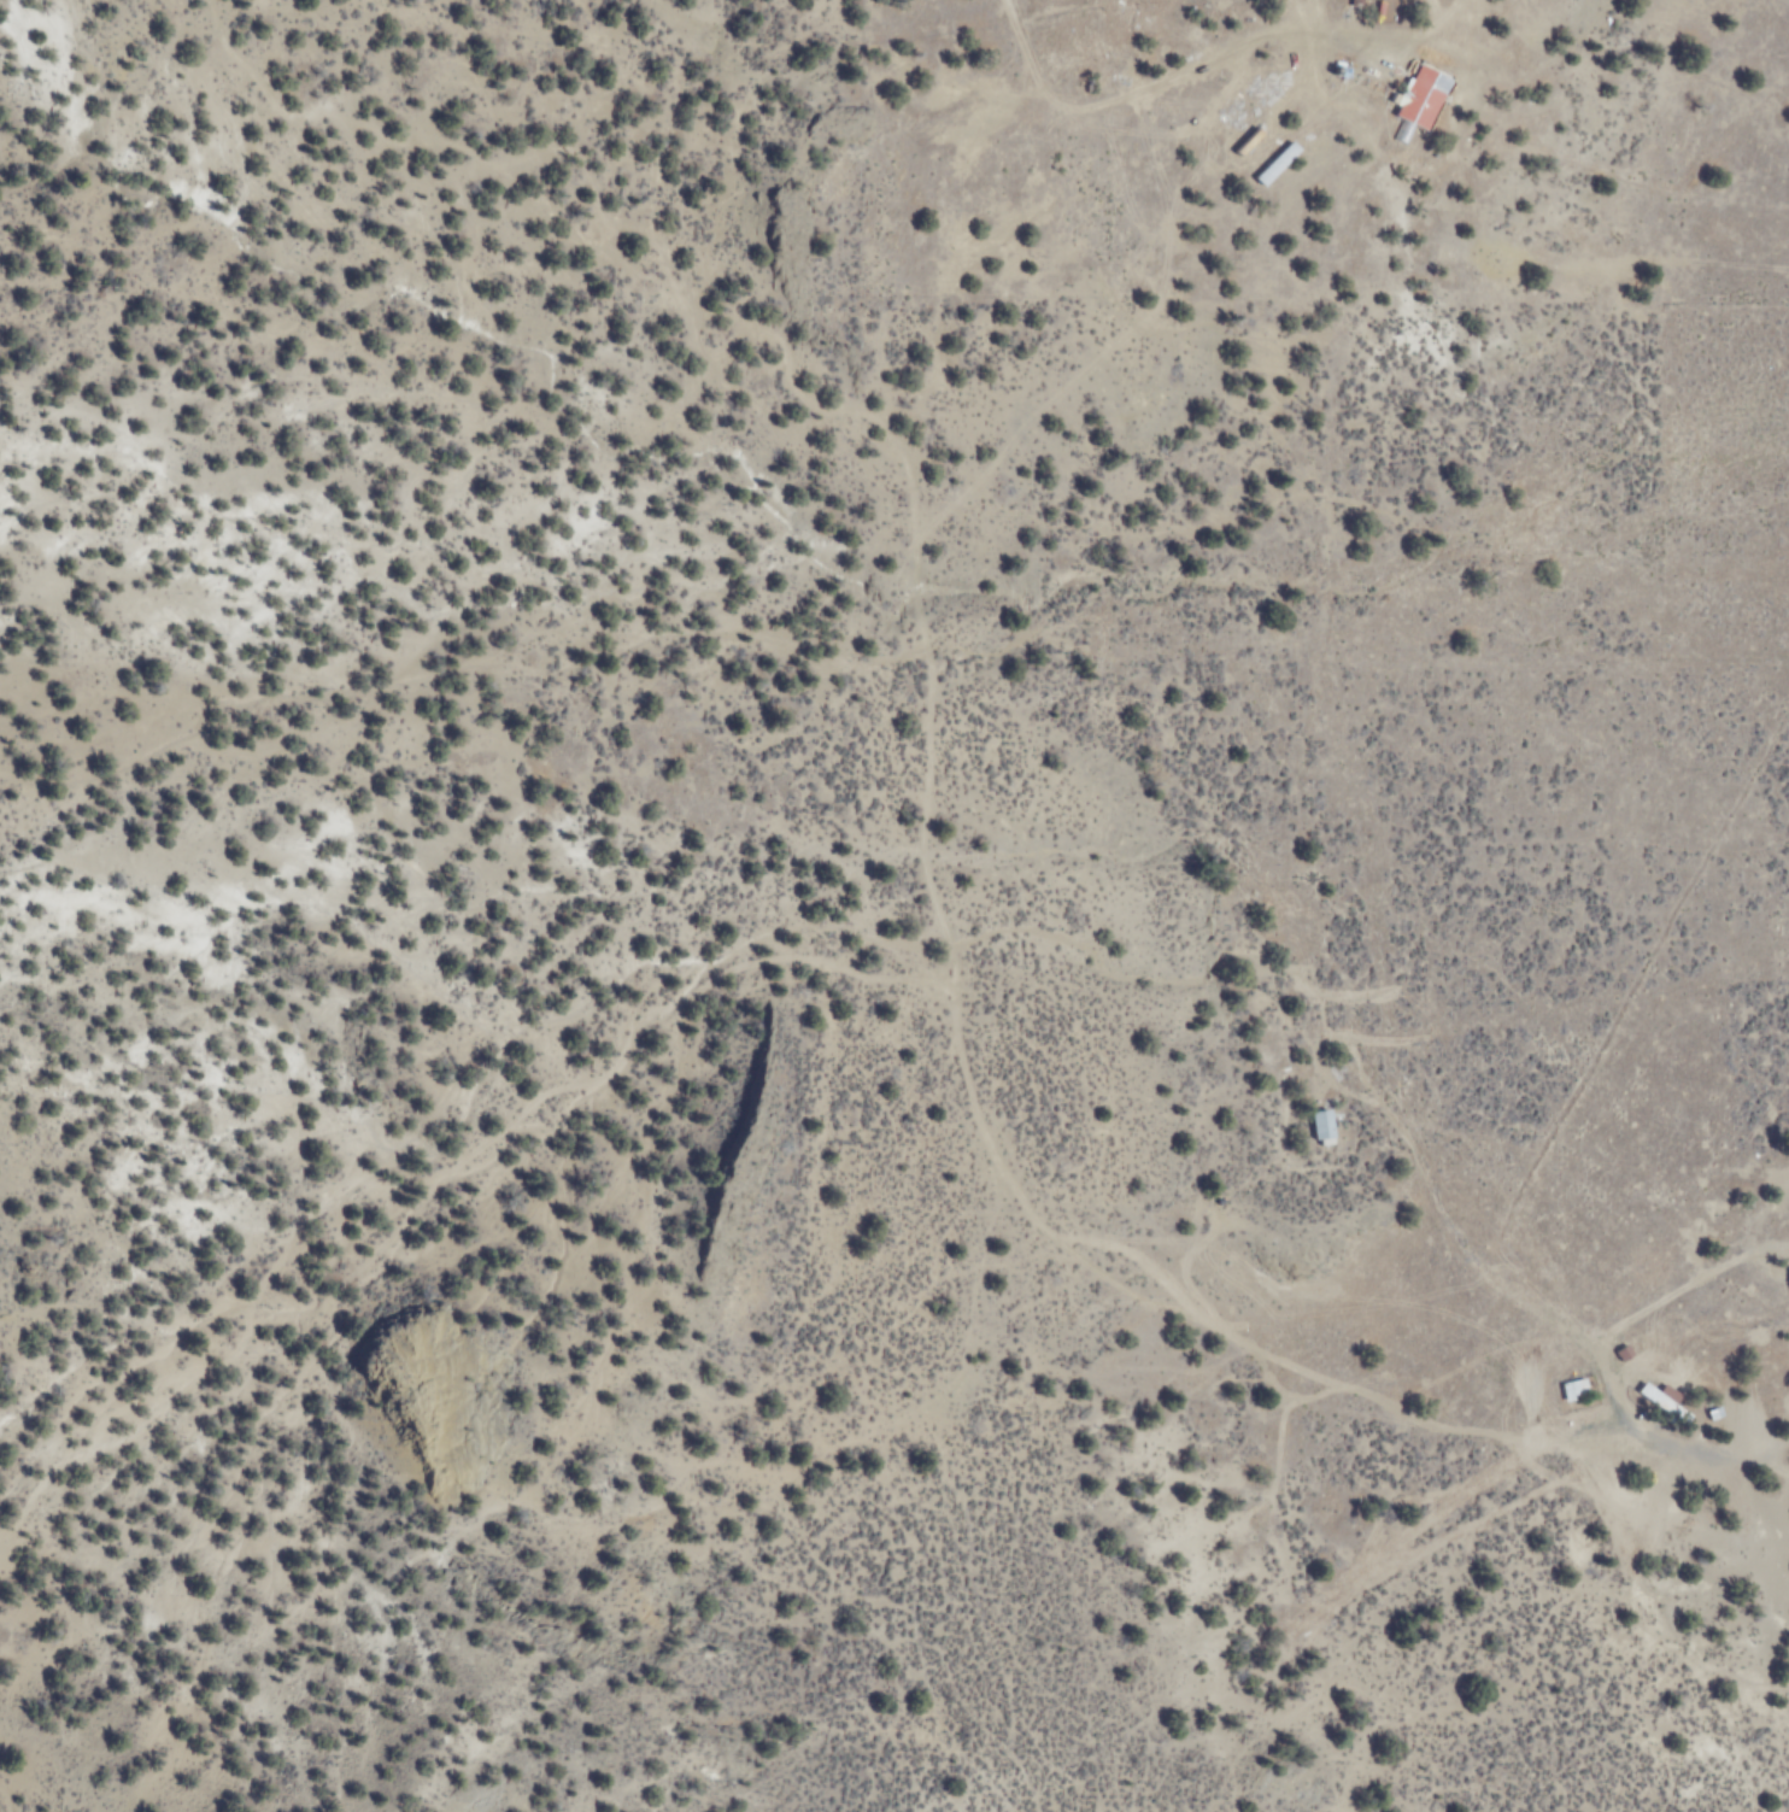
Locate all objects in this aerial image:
building: (1415, 95)
building: (1318, 1126)
building: (1570, 1386)

